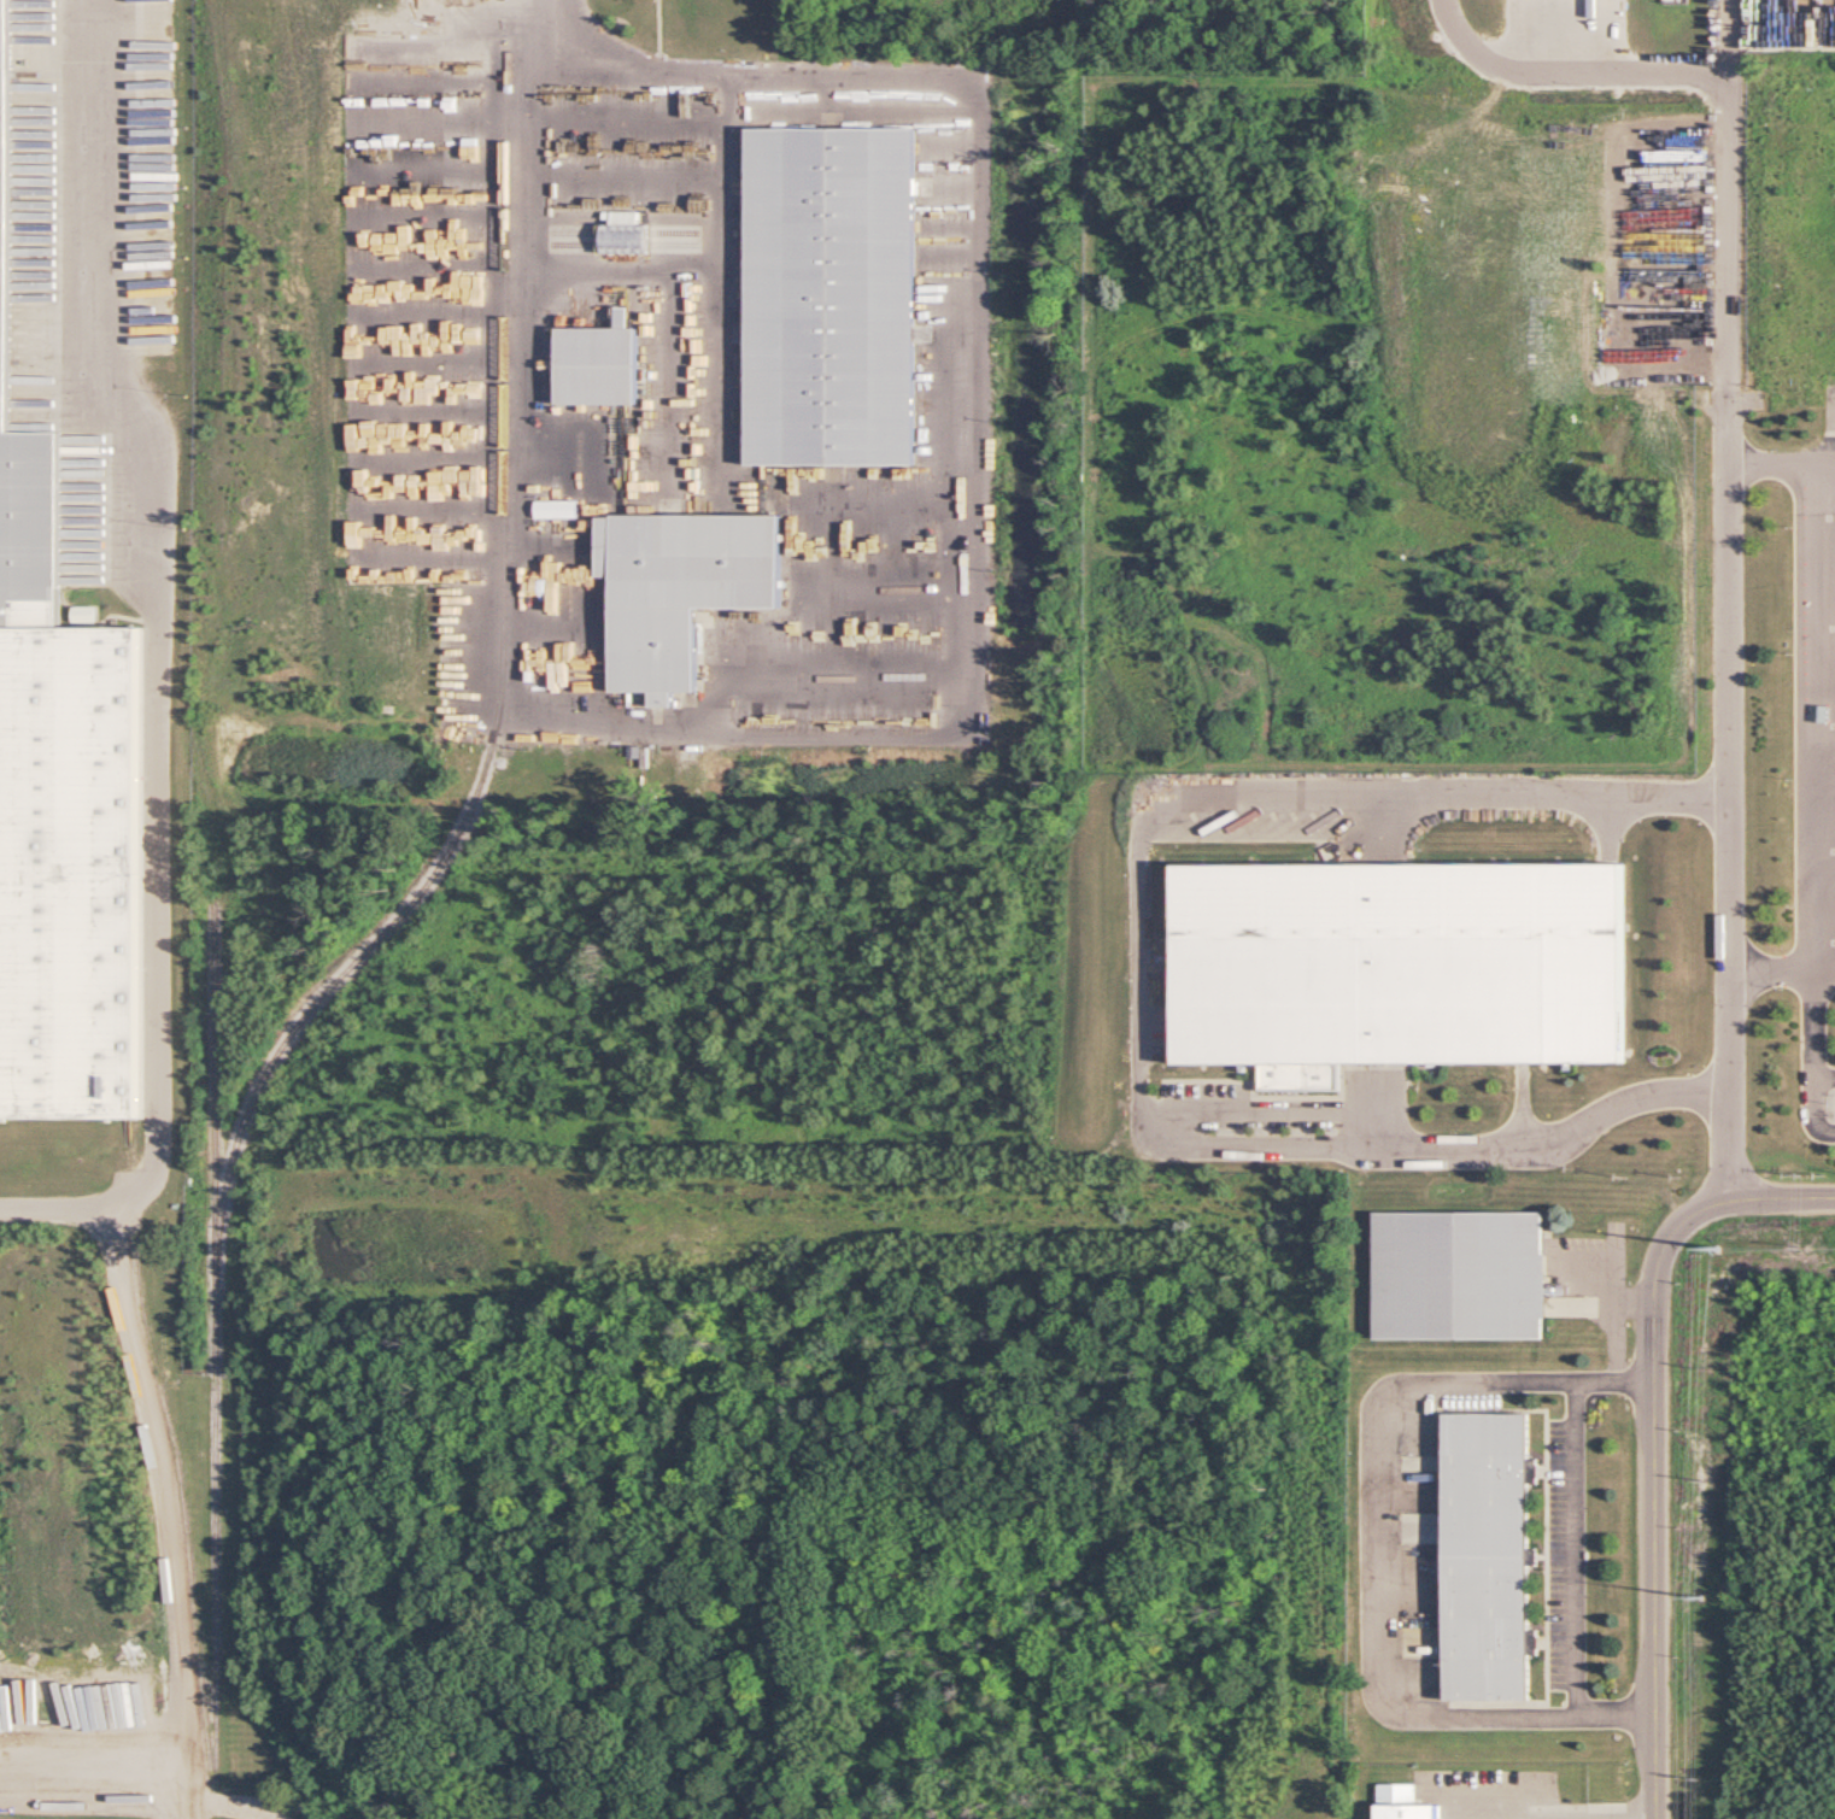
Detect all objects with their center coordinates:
road: (1567, 75)
road: (735, 77)
road: (1733, 193)
building: (625, 234)
building: (825, 270)
building: (598, 334)
road: (1774, 442)
building: (556, 509)
building: (672, 568)
road: (148, 575)
building: (47, 662)
railway: (500, 708)
road: (1821, 728)
road: (1734, 791)
road: (1613, 796)
building: (1390, 928)
road: (1138, 953)
road: (1816, 1005)
road: (1370, 1084)
road: (1519, 1084)
road: (1816, 1090)
road: (77, 1172)
road: (1753, 1196)
building: (1459, 1275)
road: (1607, 1284)
road: (1614, 1338)
railway: (217, 1344)
road: (1660, 1520)
railway: (186, 1521)
road: (1379, 1549)
road: (1576, 1549)
building: (1488, 1556)
road: (148, 1780)
road: (184, 1801)
building: (1402, 1803)
building: (92, 1817)

